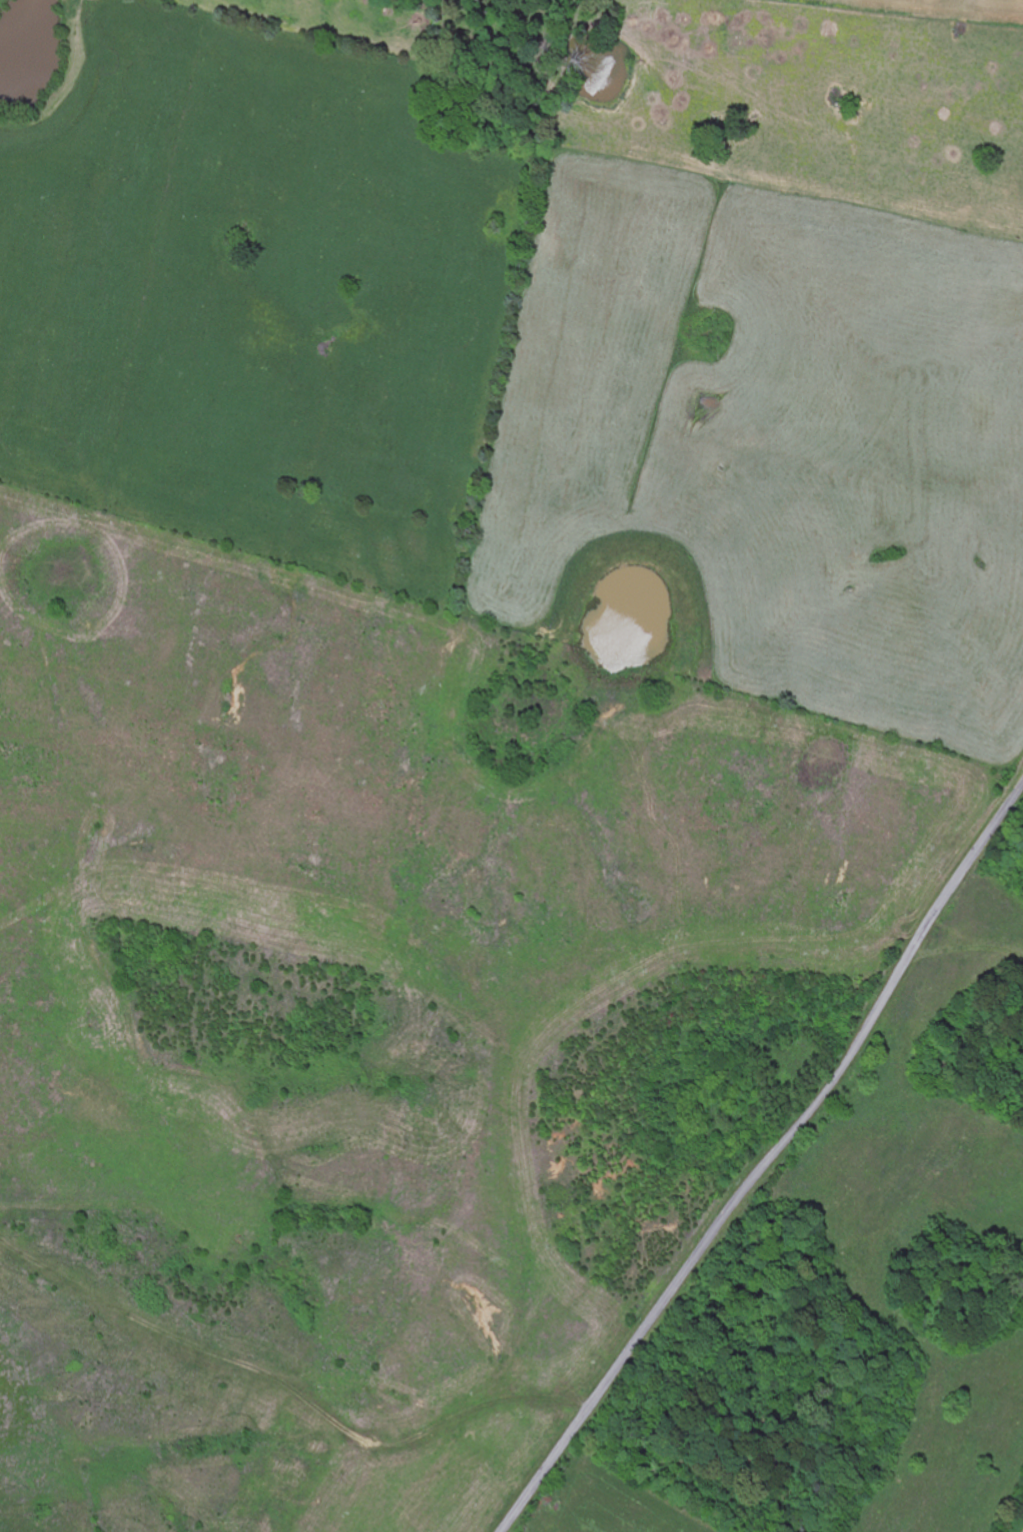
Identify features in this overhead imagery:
park: (985, 1042)
road: (769, 1160)

